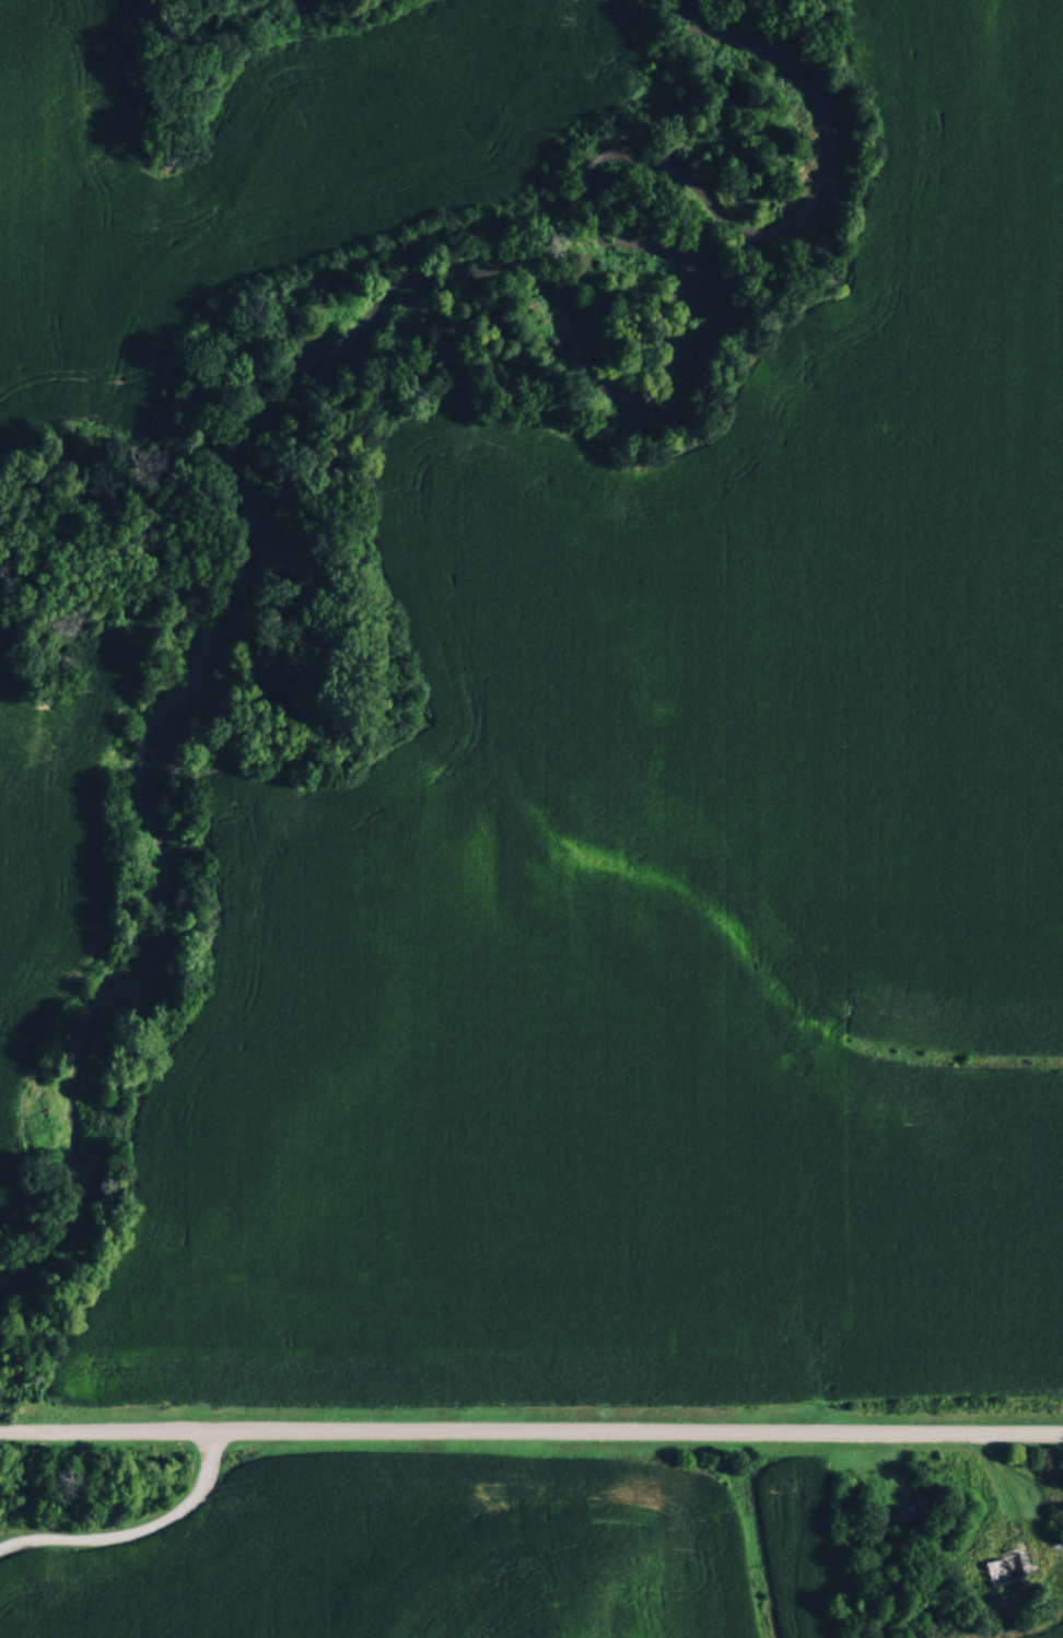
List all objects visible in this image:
road: (530, 1428)
road: (1001, 1491)
building: (920, 1505)
road: (140, 1535)
building: (1009, 1564)

